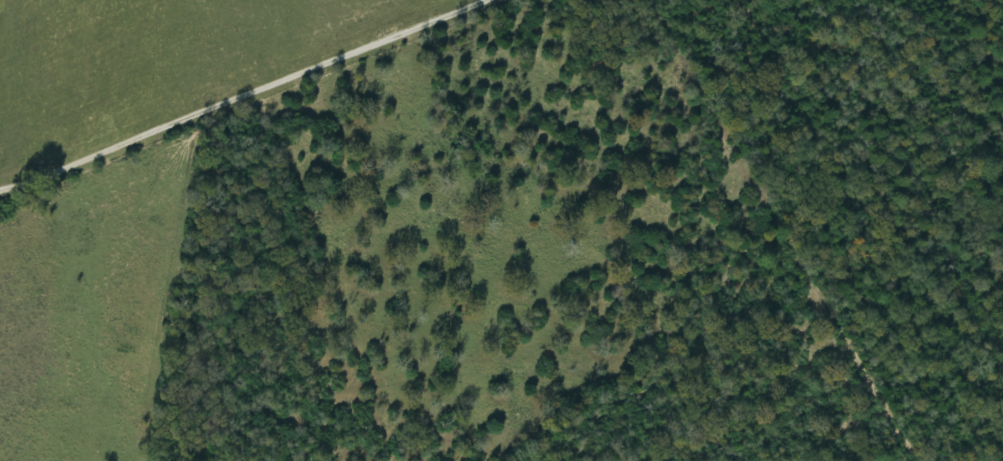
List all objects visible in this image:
road: (243, 97)

